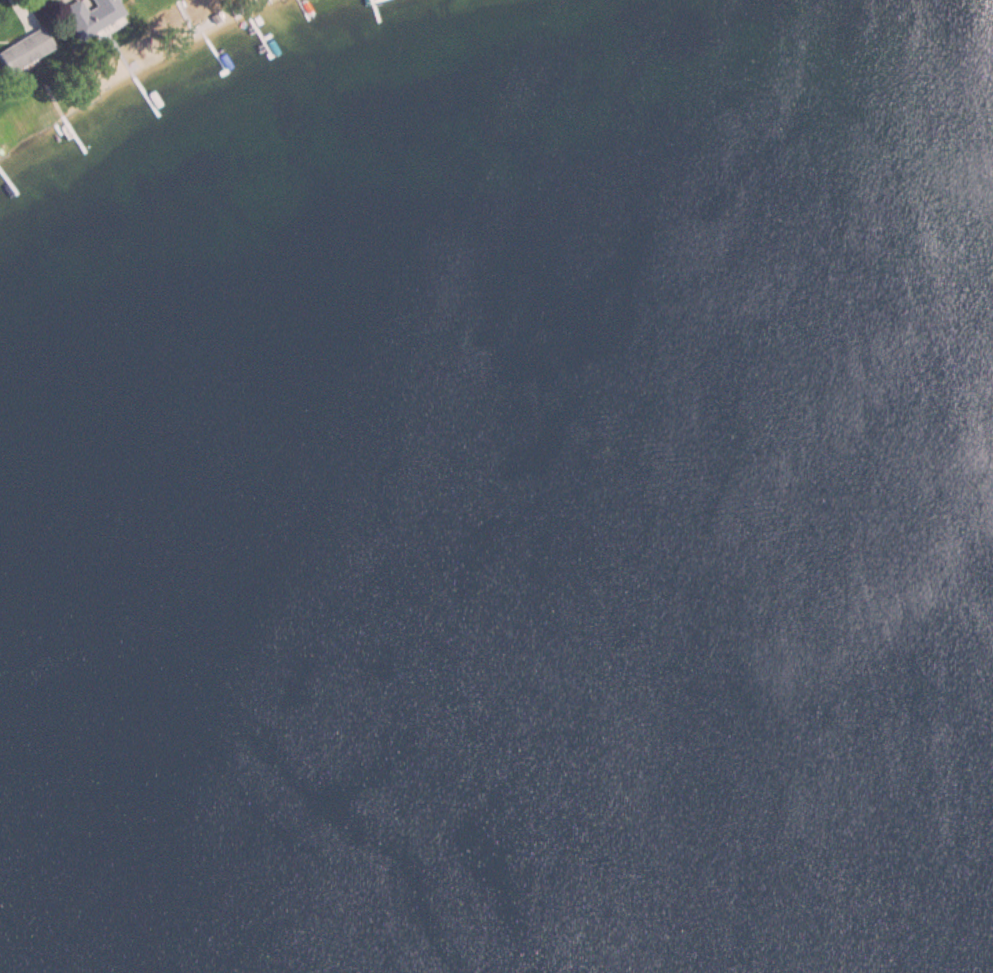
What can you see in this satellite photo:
building: (90, 16)
building: (24, 50)

